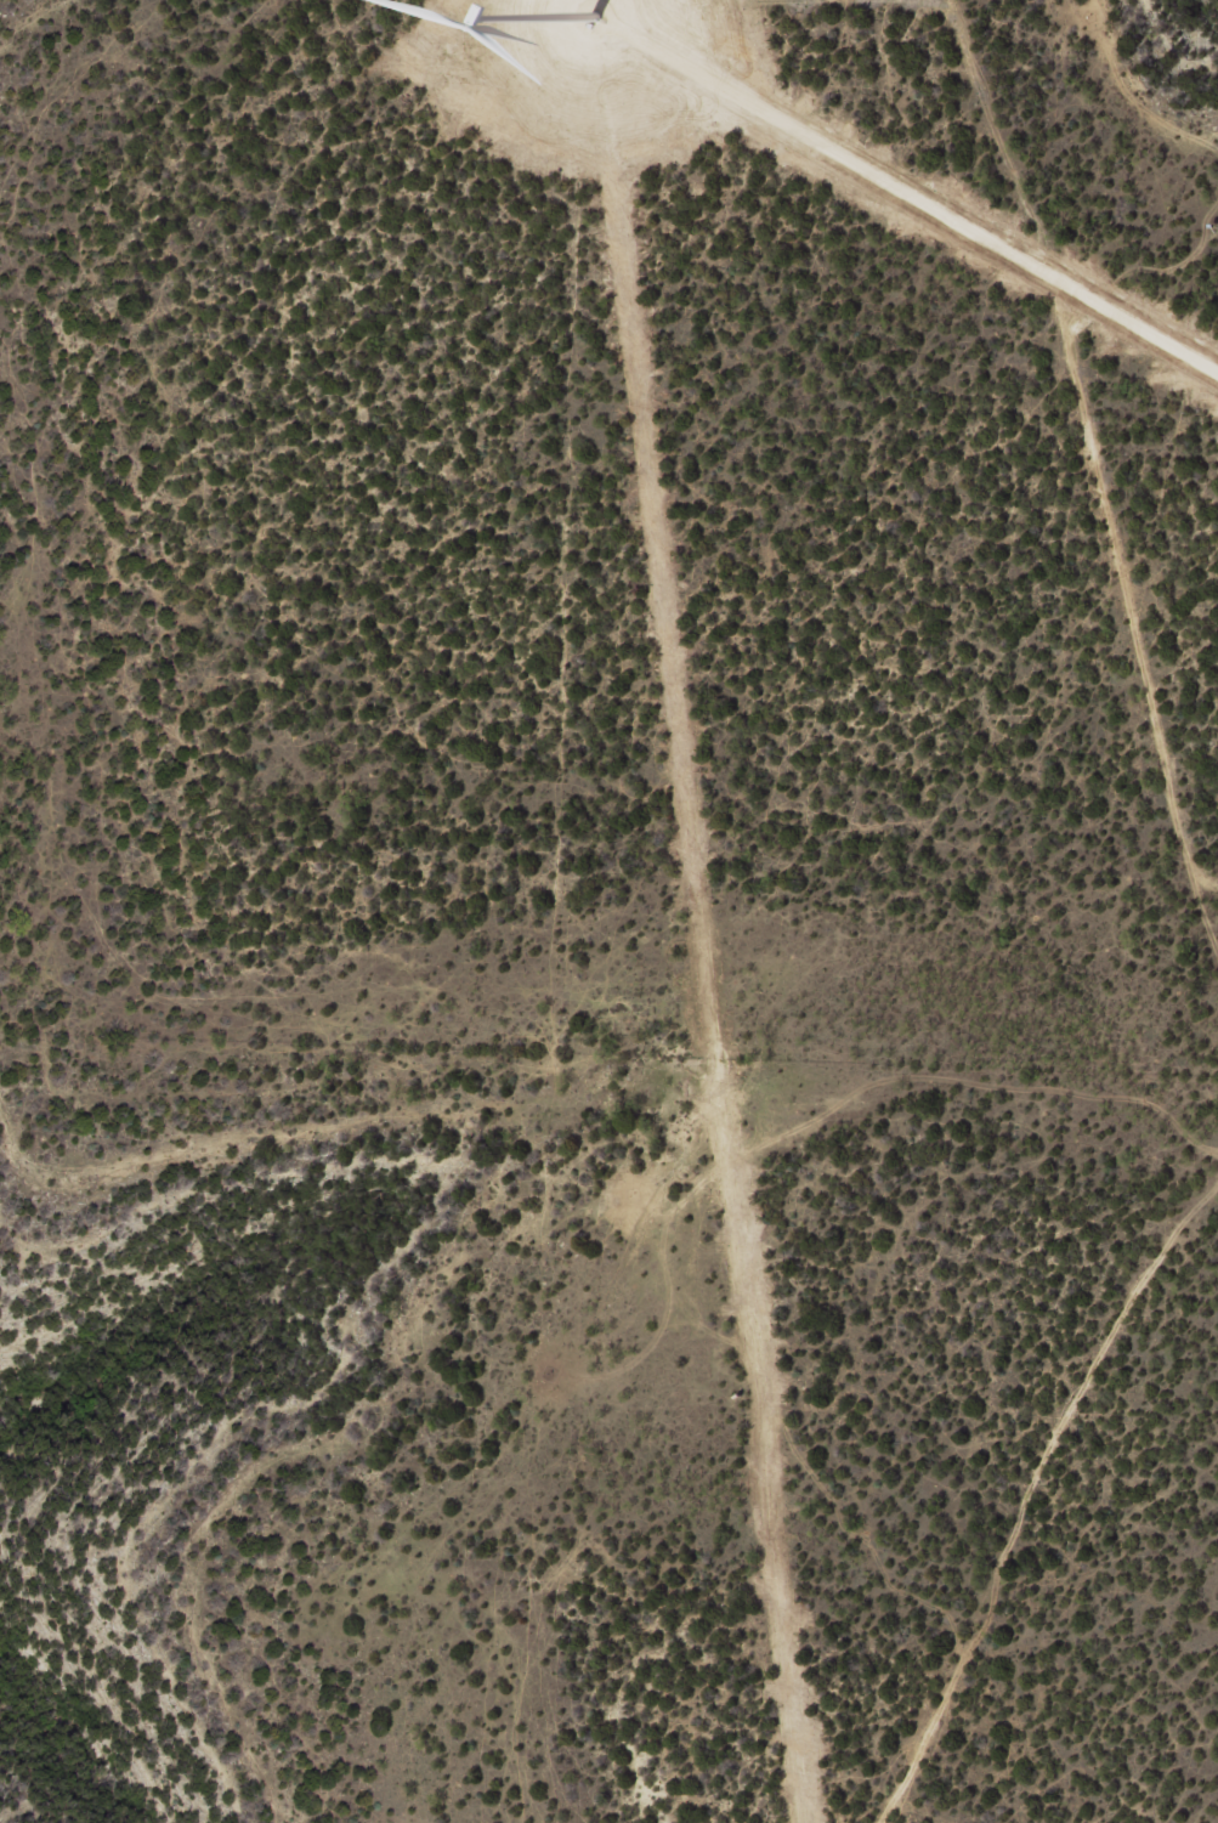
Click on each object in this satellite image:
wind turbine: (587, 12)
road: (1099, 406)
road: (1044, 1476)

